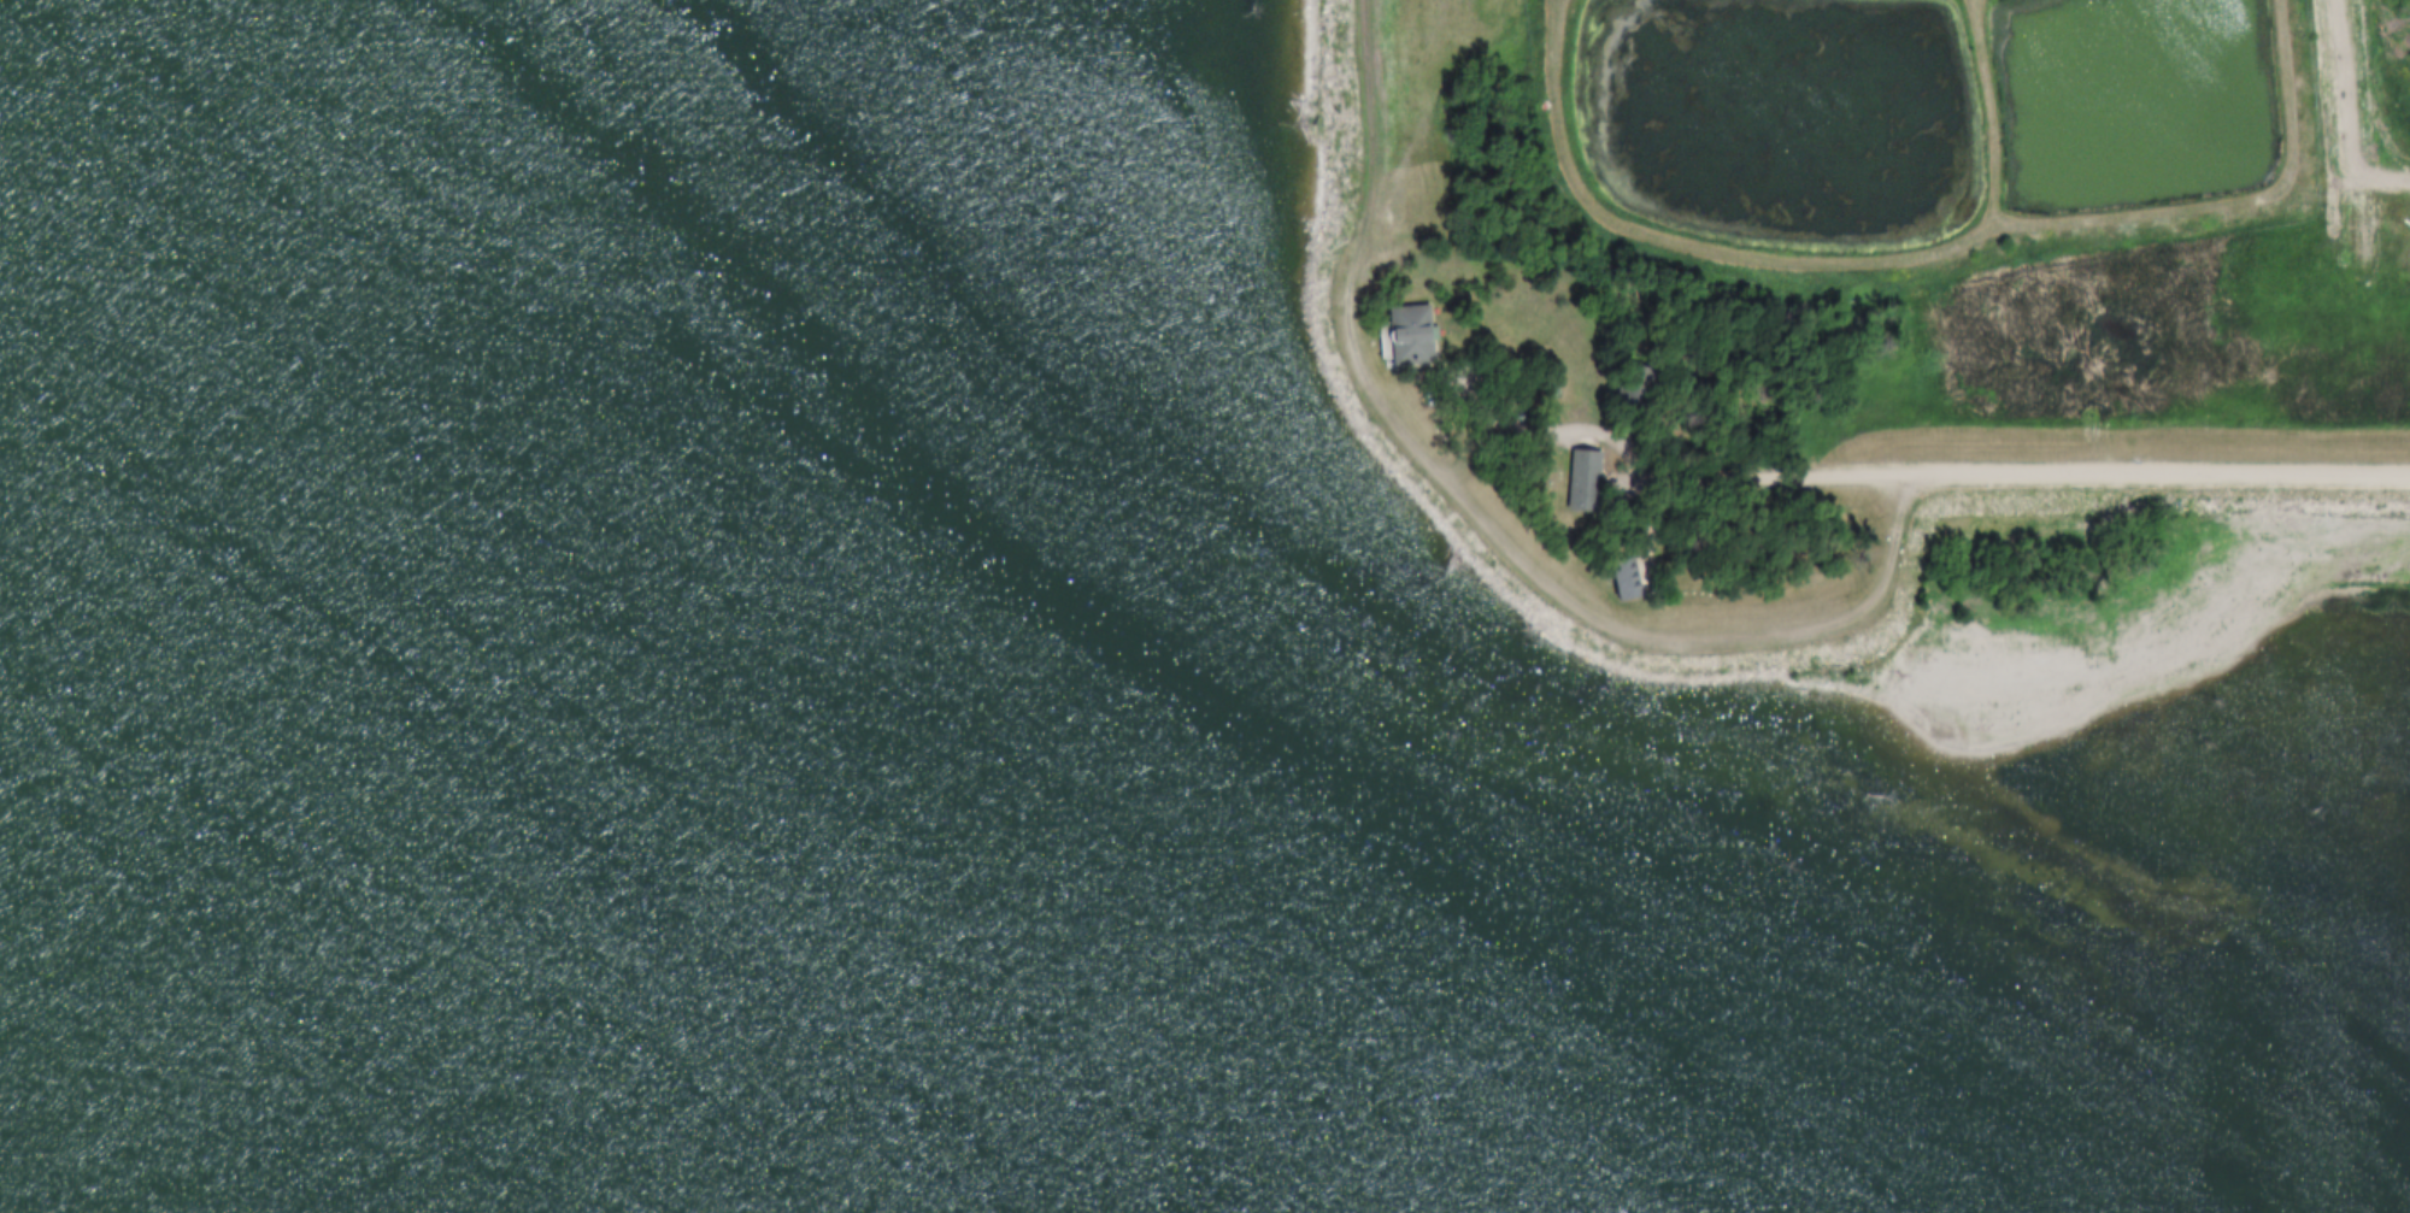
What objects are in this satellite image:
road: (1980, 112)
road: (2339, 113)
road: (1920, 259)
building: (1398, 336)
building: (1634, 385)
road: (1536, 428)
road: (2020, 467)
building: (1571, 476)
building: (1610, 575)
building: (1624, 581)
road: (1558, 600)

